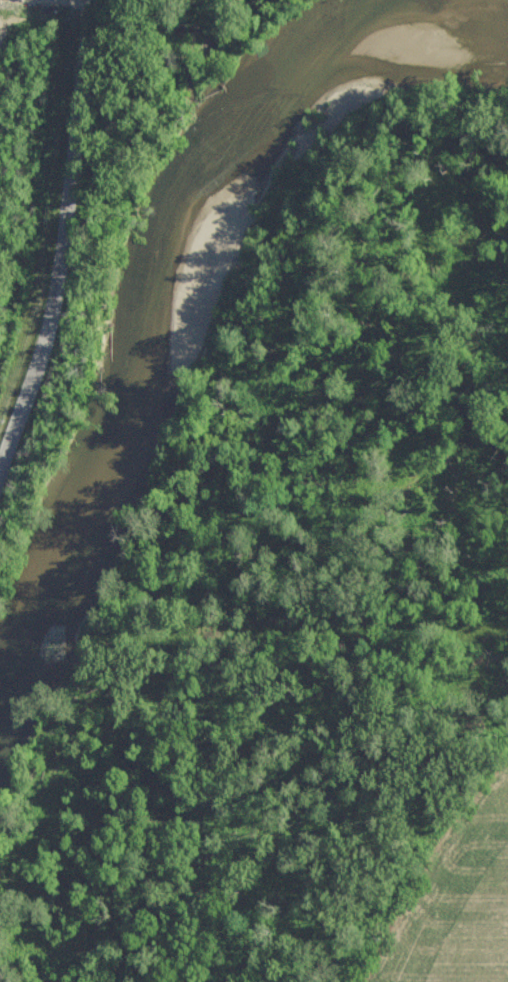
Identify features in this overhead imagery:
road: (67, 243)
river: (172, 248)

